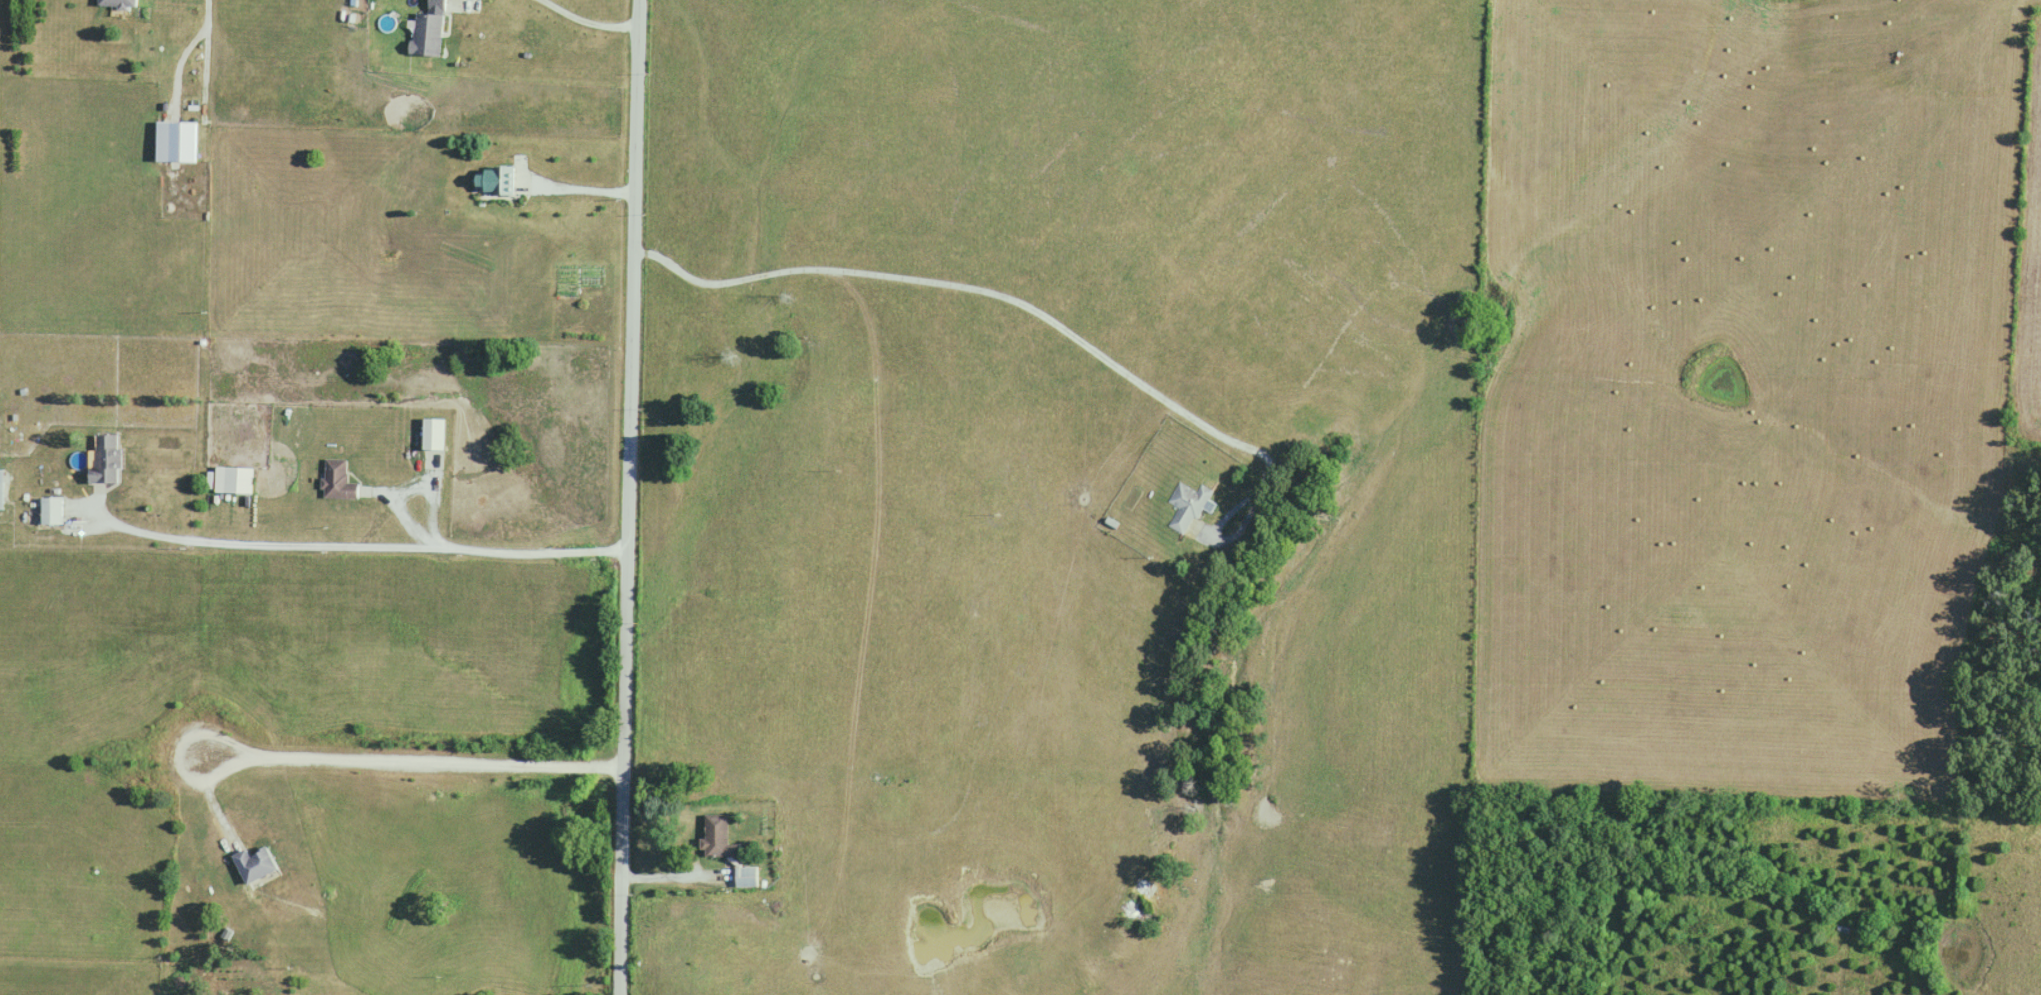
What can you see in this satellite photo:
building: (117, 3)
road: (595, 18)
building: (426, 35)
road: (186, 48)
building: (175, 142)
building: (497, 180)
road: (1018, 304)
building: (433, 435)
building: (105, 461)
building: (233, 480)
building: (337, 481)
road: (633, 497)
building: (1187, 507)
building: (51, 511)
road: (358, 550)
road: (385, 757)
building: (727, 850)
building: (254, 865)
road: (684, 880)

